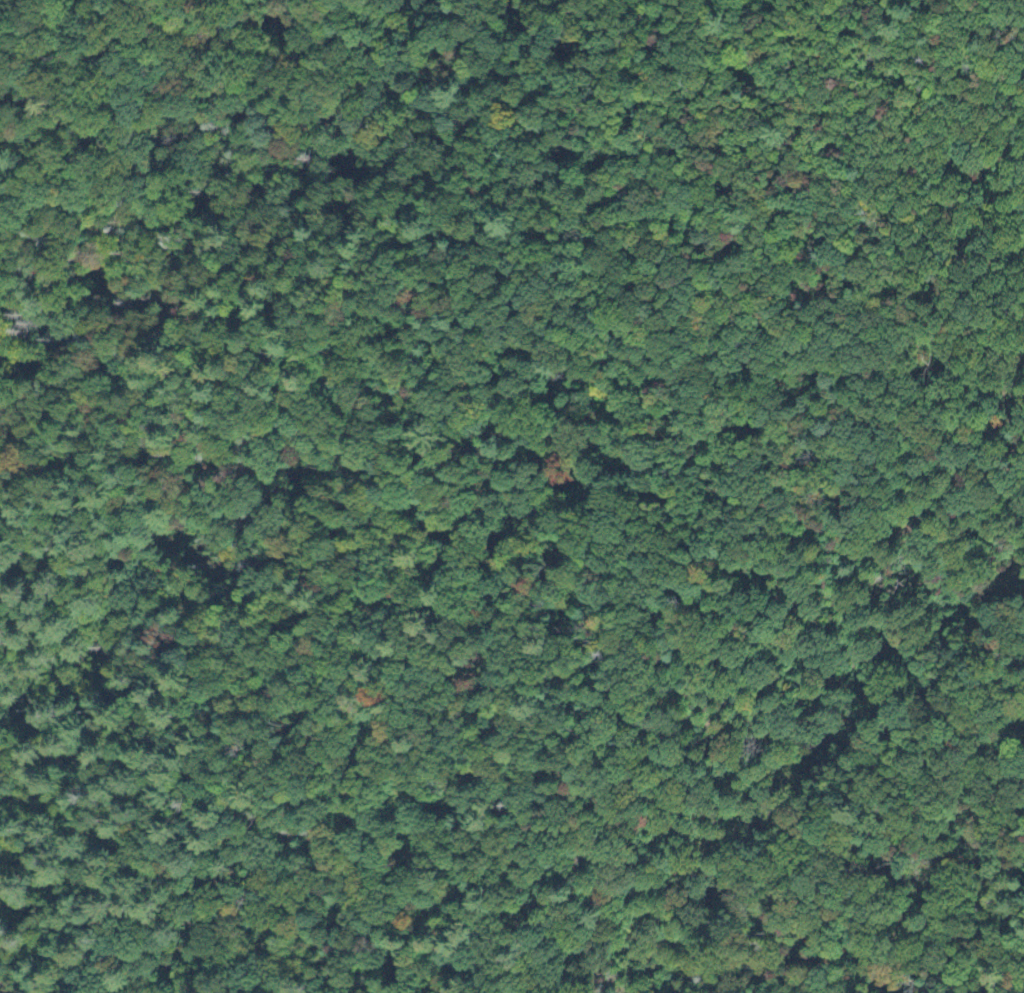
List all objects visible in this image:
road: (720, 855)
road: (886, 986)

